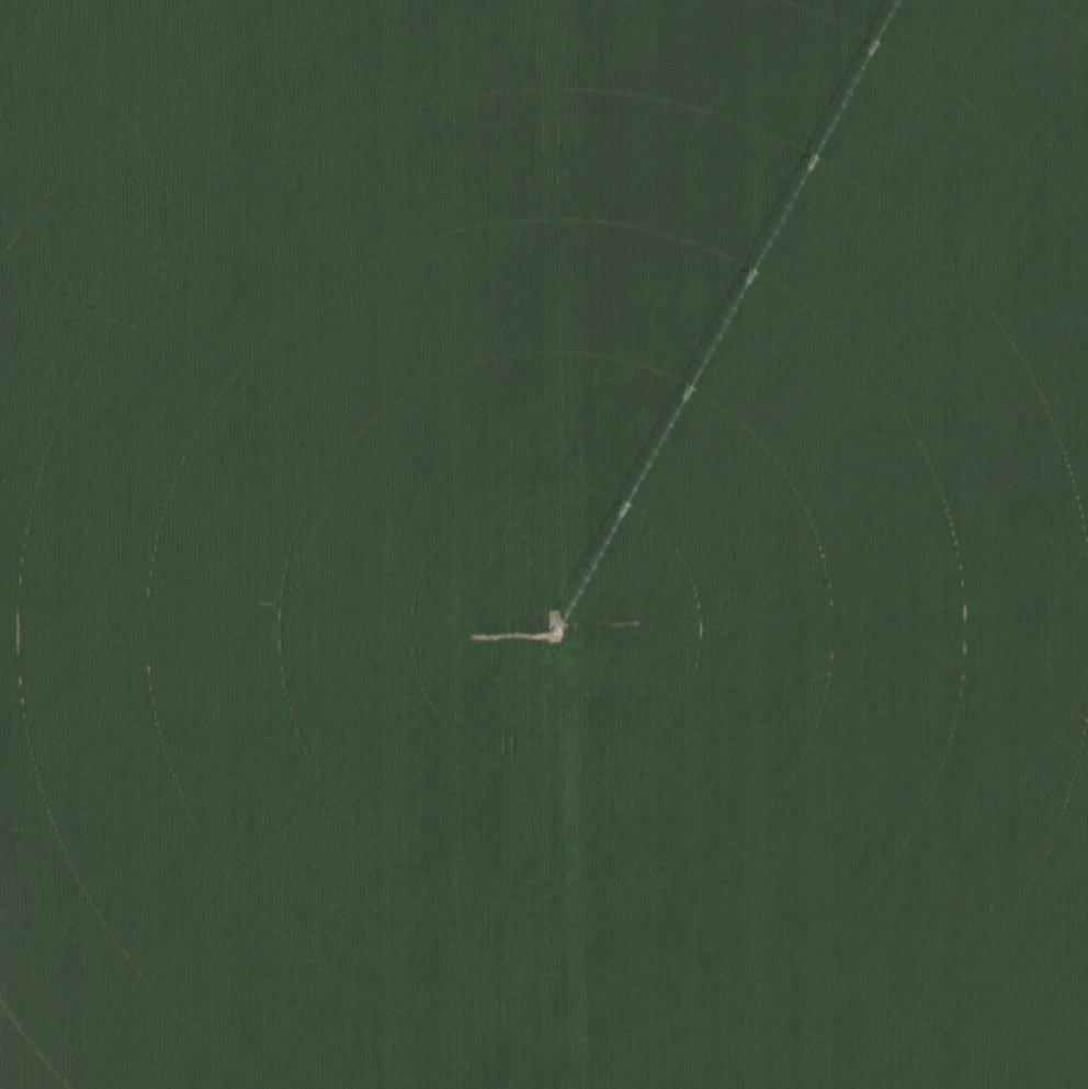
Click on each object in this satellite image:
crop: (543, 543)

